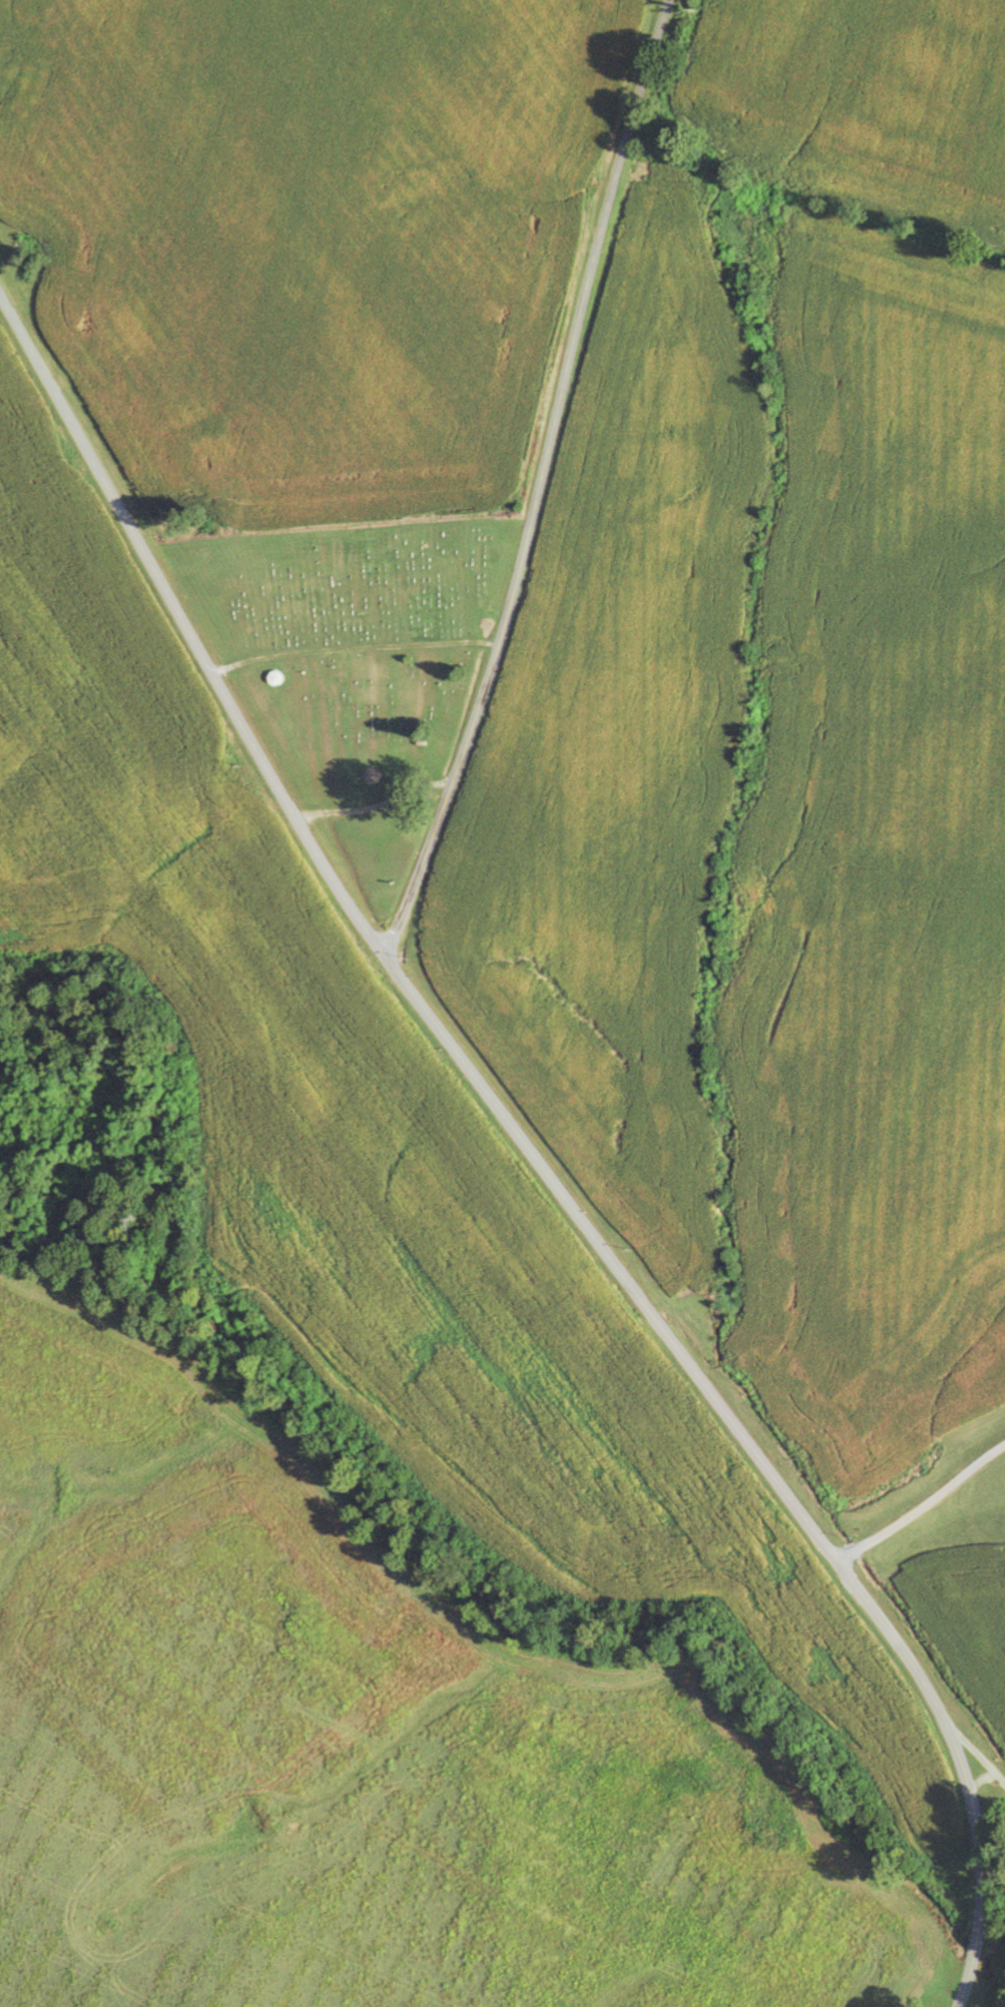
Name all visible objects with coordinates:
road: (543, 481)
road: (187, 625)
park: (354, 666)
road: (758, 1451)
road: (903, 1463)
road: (970, 1742)

